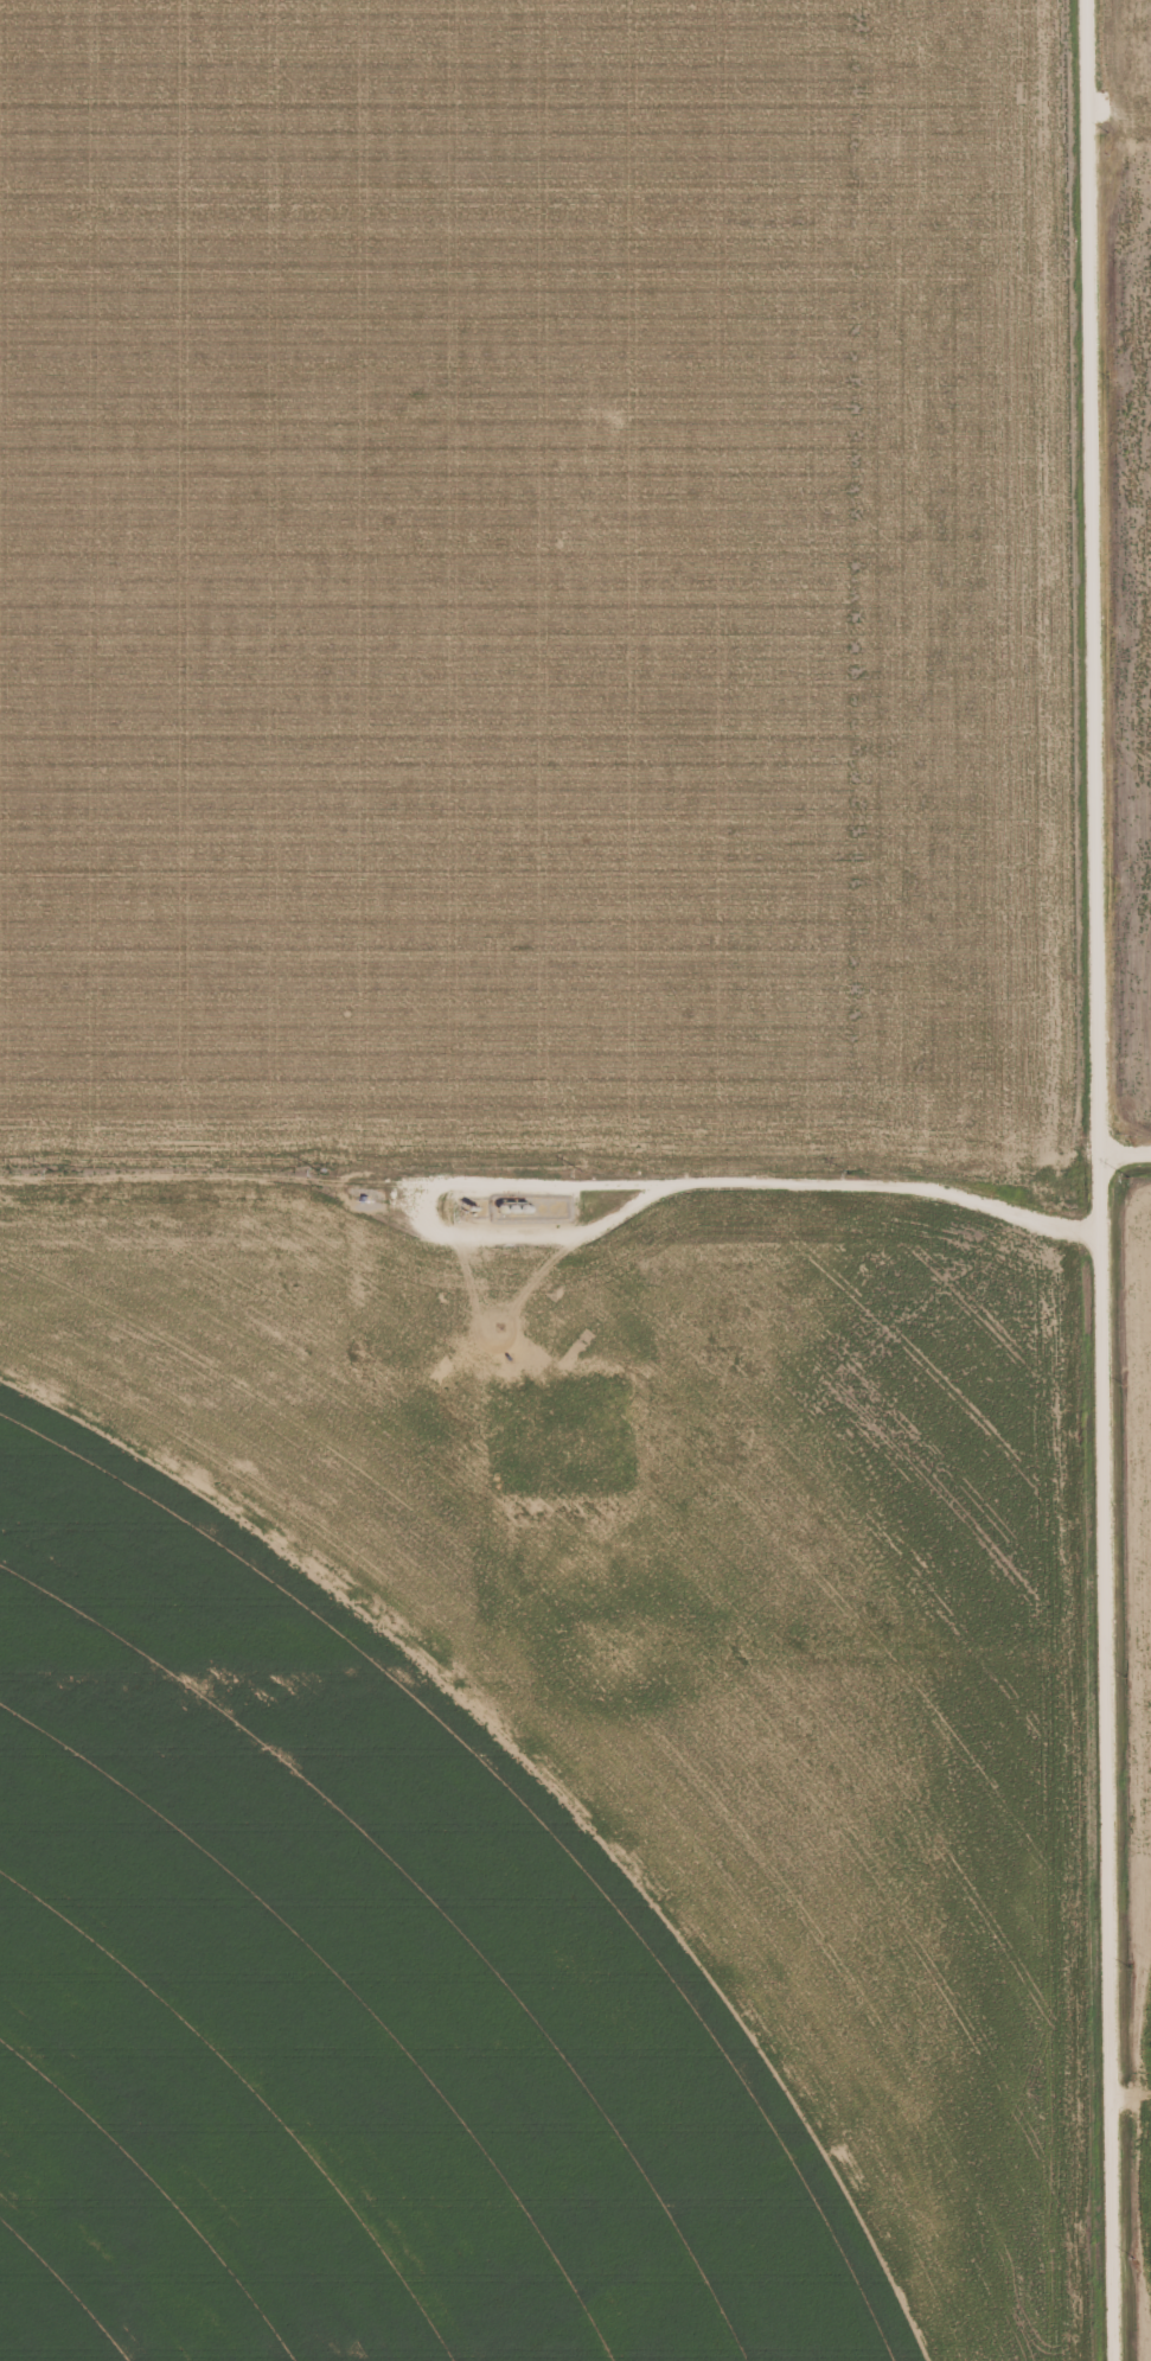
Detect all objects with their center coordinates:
road: (1127, 1149)
road: (552, 1157)
road: (1105, 1180)

